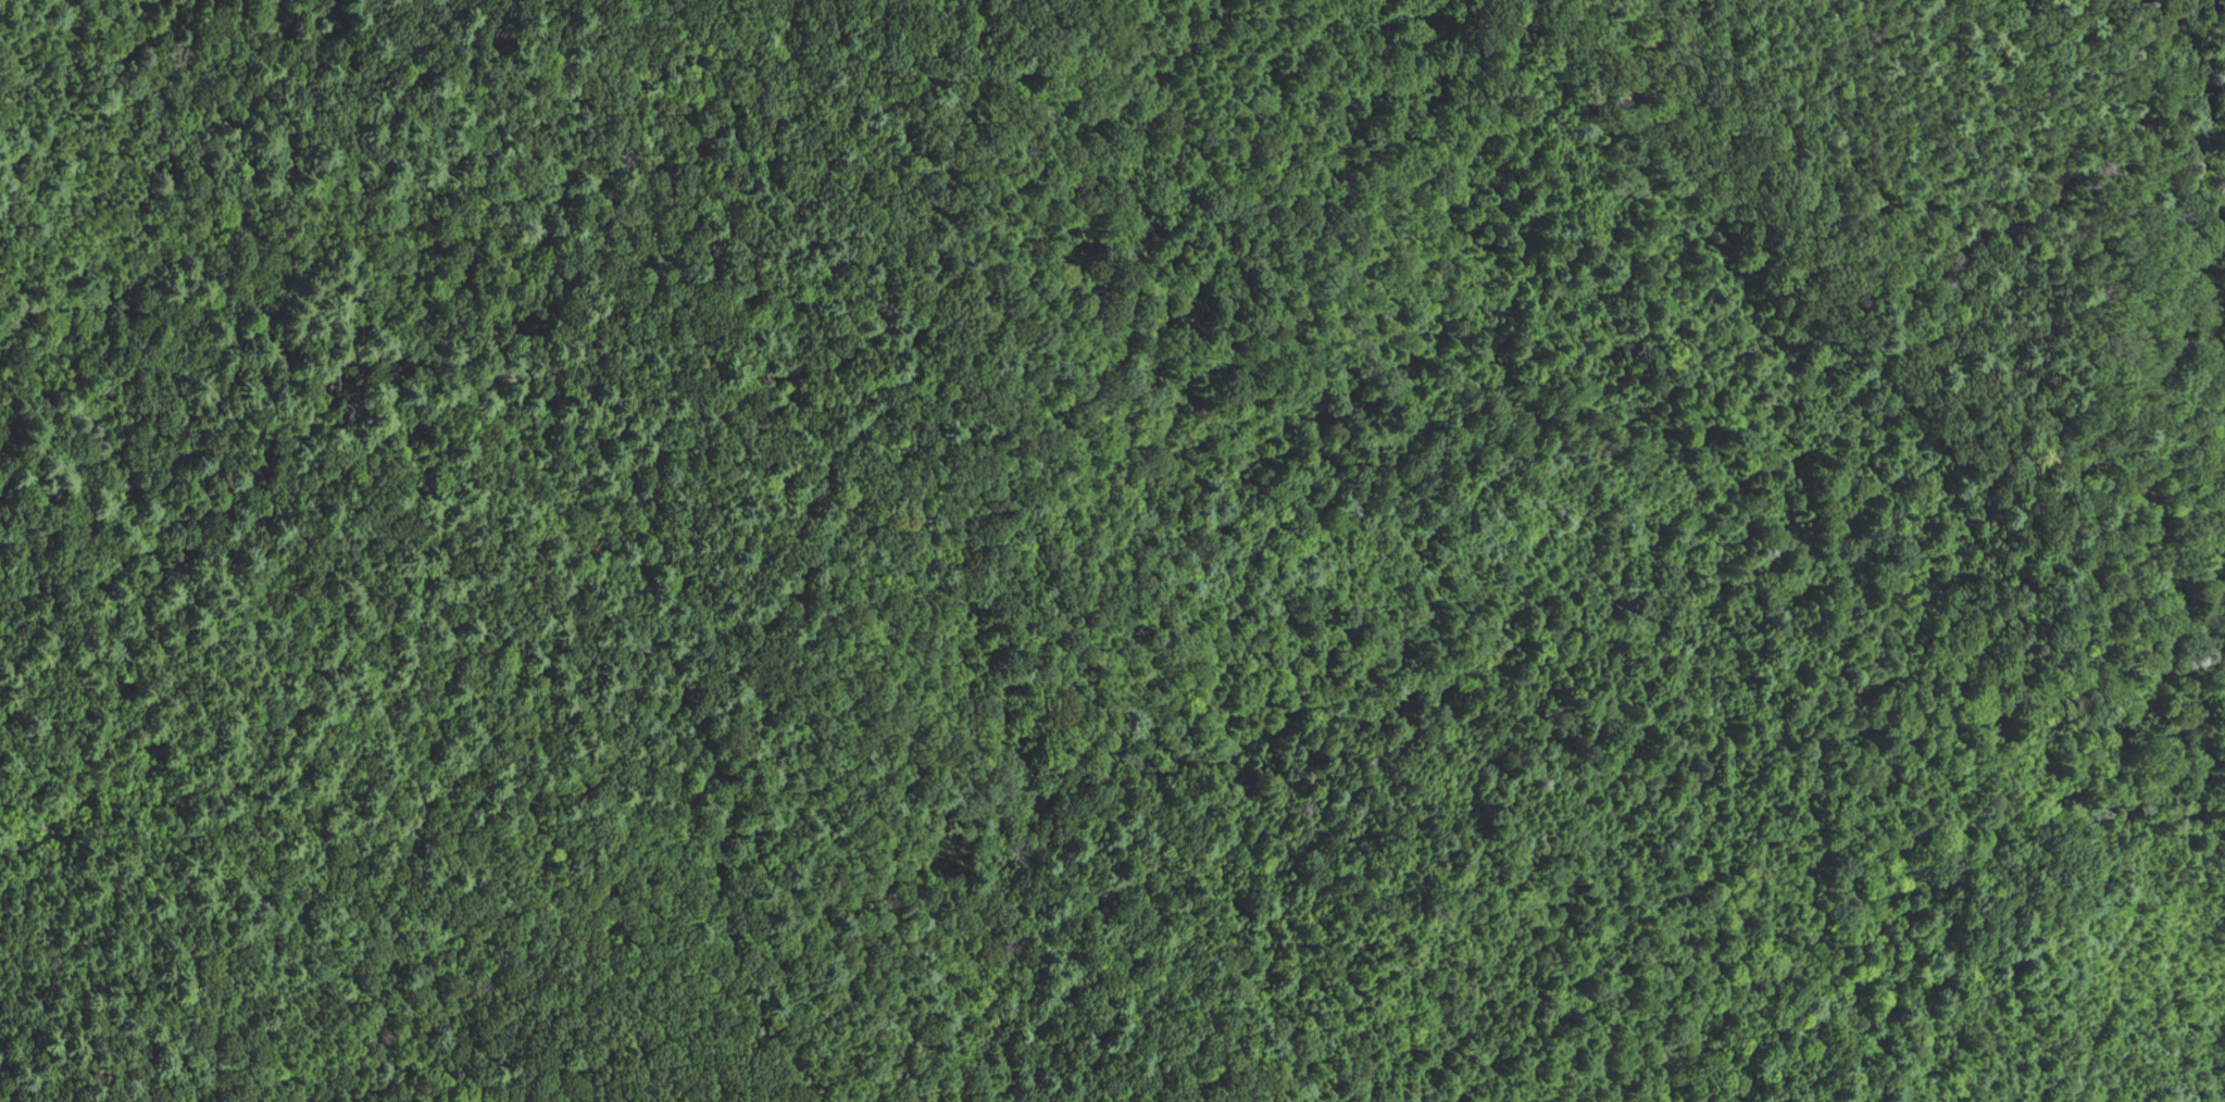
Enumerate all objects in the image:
road: (2065, 799)

